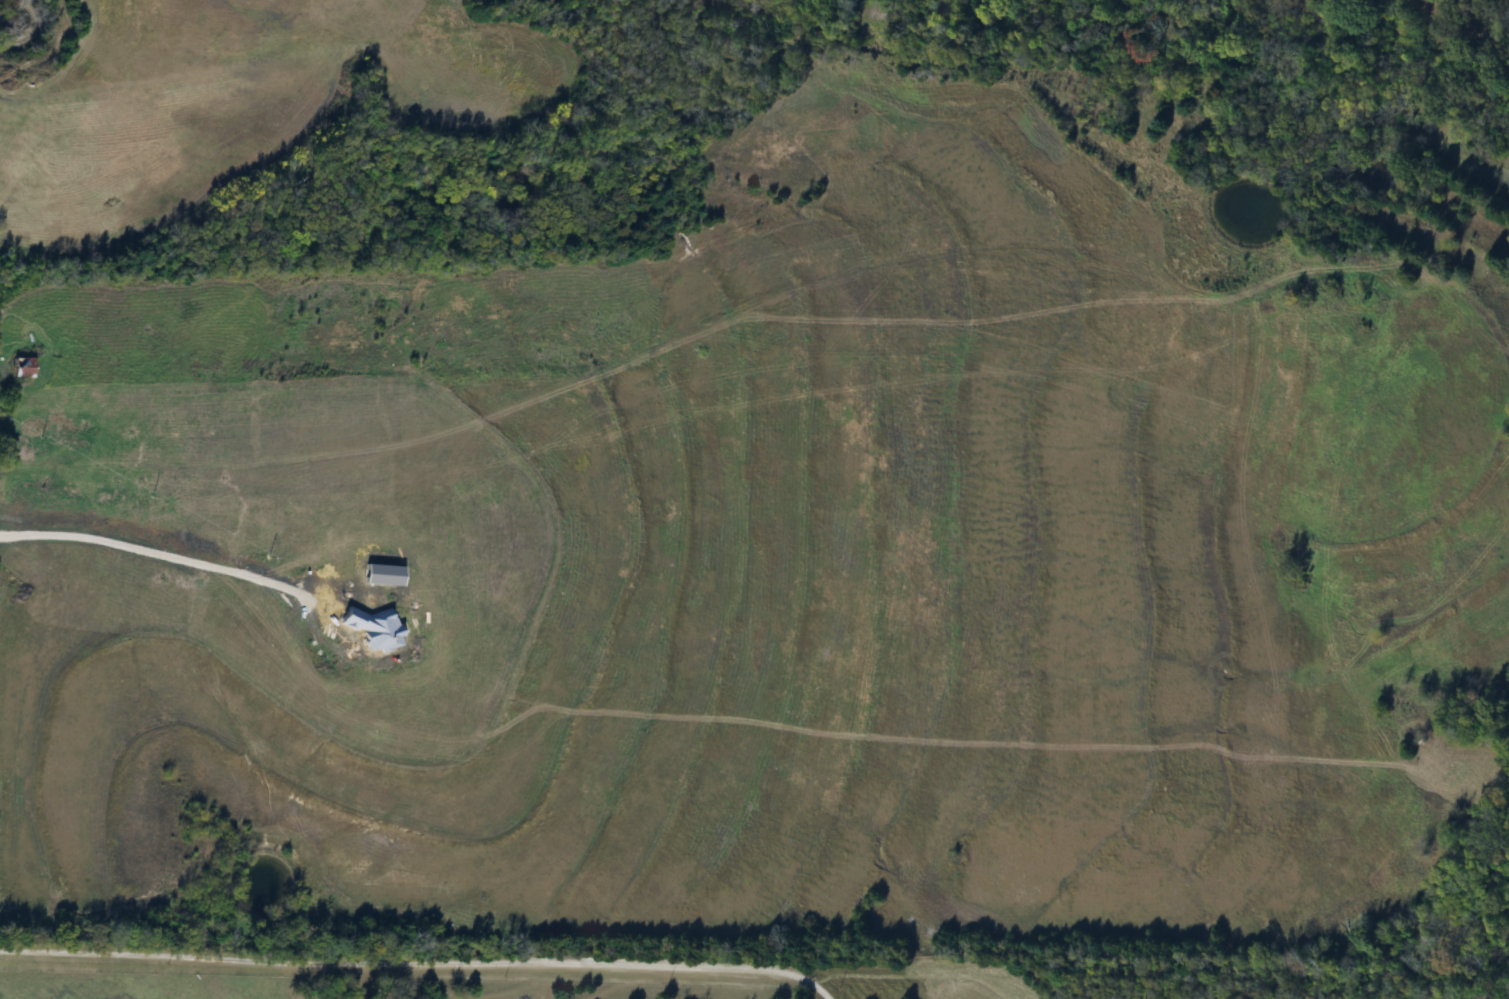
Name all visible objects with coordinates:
building: (18, 367)
road: (413, 964)

